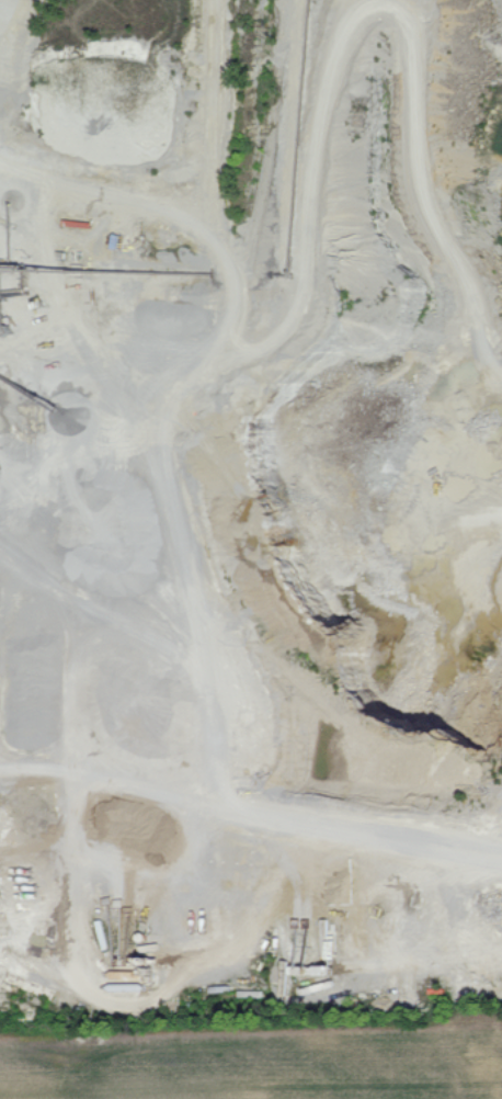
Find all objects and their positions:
quarry: (258, 457)

